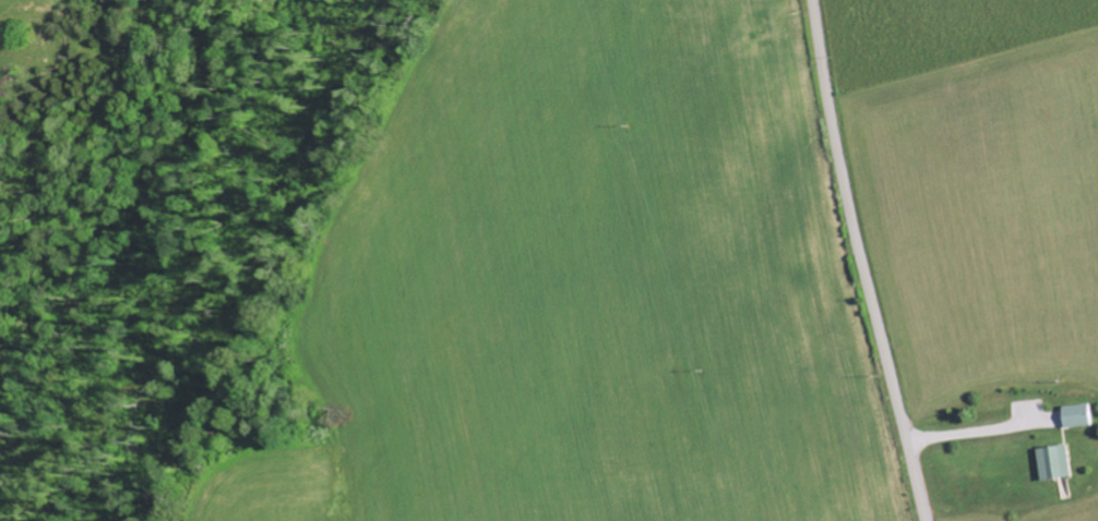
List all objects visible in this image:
road: (862, 262)
building: (1077, 414)
building: (1054, 461)

